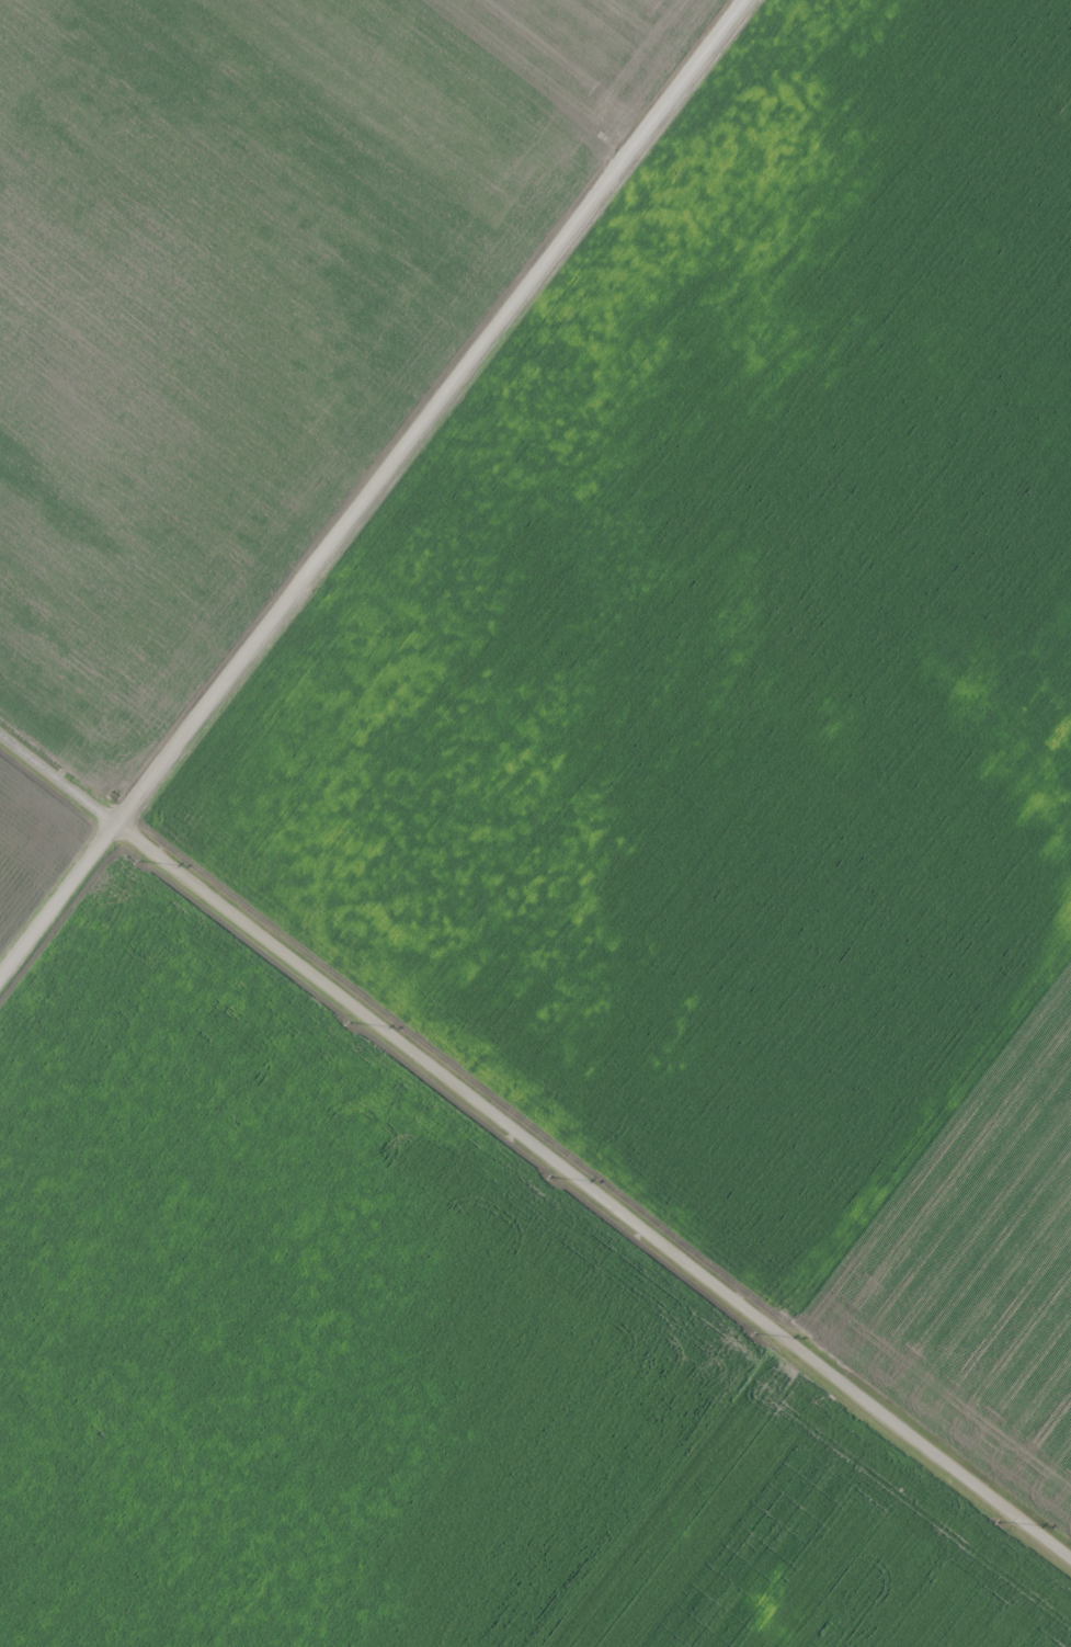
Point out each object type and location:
road: (379, 499)
road: (535, 1145)

